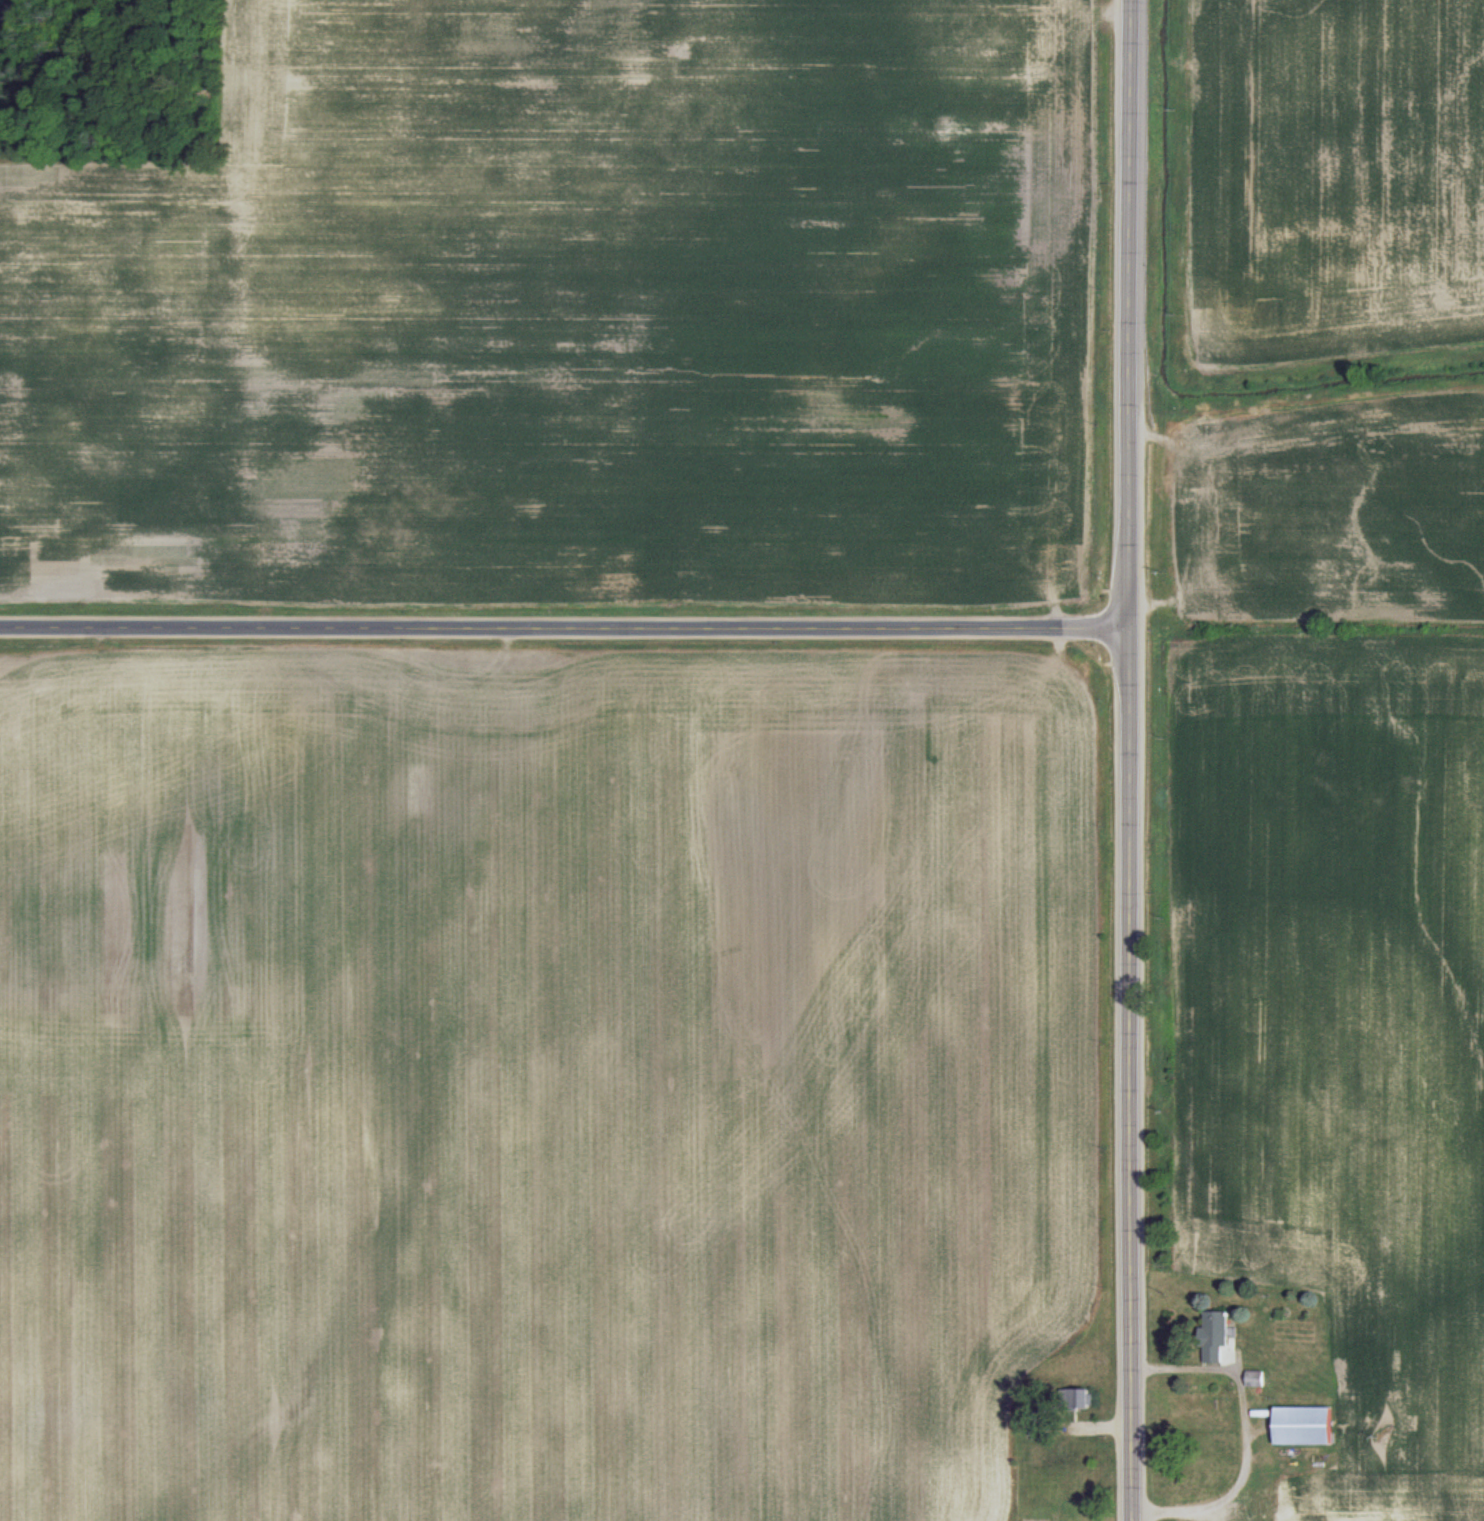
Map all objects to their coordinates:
crop: (562, 310)
crop: (1304, 313)
road: (560, 625)
road: (1121, 760)
crop: (1303, 1072)
crop: (551, 1083)
building: (1214, 1335)
building: (1254, 1378)
building: (1302, 1425)
road: (1251, 1426)

